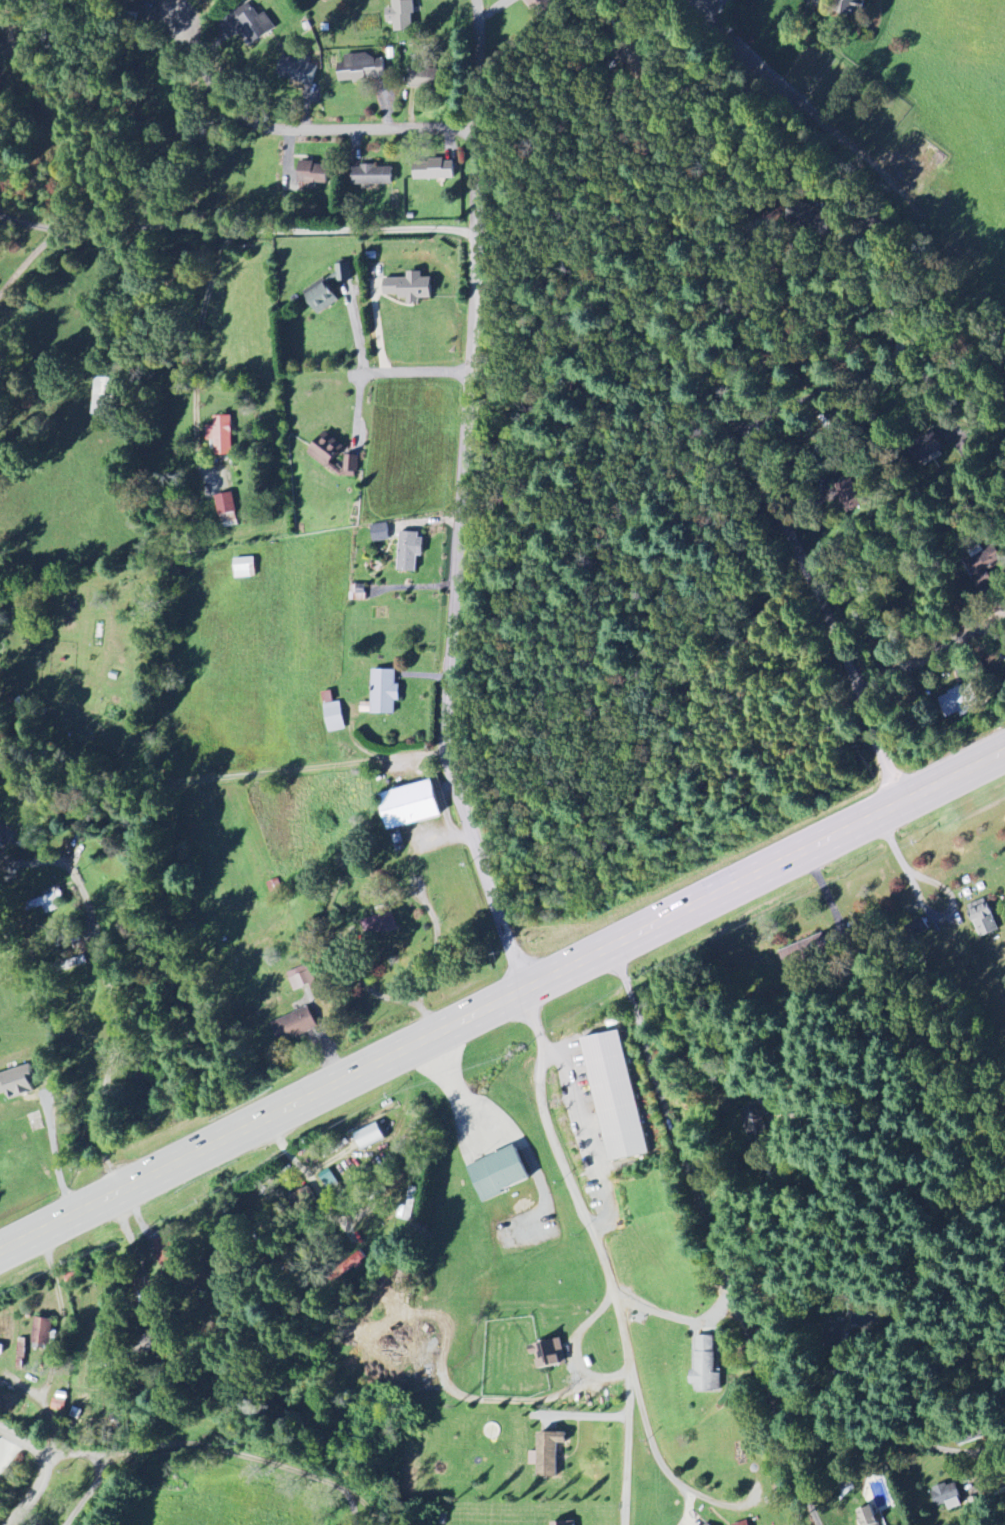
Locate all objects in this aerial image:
building: (538, 6)
building: (401, 15)
road: (199, 37)
building: (362, 69)
building: (296, 73)
building: (425, 80)
road: (484, 111)
road: (315, 125)
building: (434, 170)
building: (312, 175)
building: (372, 176)
road: (36, 225)
road: (275, 226)
road: (249, 242)
road: (32, 256)
road: (474, 266)
building: (343, 273)
road: (880, 279)
building: (409, 288)
road: (758, 293)
building: (320, 298)
road: (378, 327)
road: (356, 328)
road: (198, 344)
road: (410, 372)
road: (849, 375)
building: (102, 397)
road: (737, 408)
building: (221, 437)
building: (927, 449)
building: (332, 455)
building: (849, 496)
building: (226, 512)
building: (380, 533)
building: (409, 551)
building: (245, 569)
road: (413, 583)
building: (360, 592)
road: (933, 650)
road: (449, 655)
building: (384, 692)
road: (57, 701)
building: (957, 703)
building: (334, 717)
road: (269, 771)
building: (409, 805)
building: (0, 840)
road: (368, 872)
building: (47, 902)
road: (925, 906)
building: (983, 918)
building: (382, 923)
building: (804, 953)
building: (302, 979)
road: (500, 1001)
road: (110, 1009)
building: (294, 1026)
building: (17, 1084)
road: (454, 1084)
building: (614, 1097)
building: (756, 1121)
building: (368, 1137)
building: (498, 1174)
building: (329, 1182)
road: (711, 1239)
building: (164, 1250)
road: (605, 1252)
building: (358, 1258)
road: (59, 1301)
road: (679, 1318)
building: (428, 1327)
building: (41, 1334)
building: (20, 1353)
building: (548, 1355)
building: (705, 1368)
building: (59, 1402)
road: (901, 1428)
road: (246, 1453)
building: (547, 1455)
road: (108, 1463)
road: (41, 1470)
road: (665, 1472)
building: (947, 1497)
building: (866, 1517)
building: (743, 1523)
building: (564, 1524)
building: (704, 1524)

